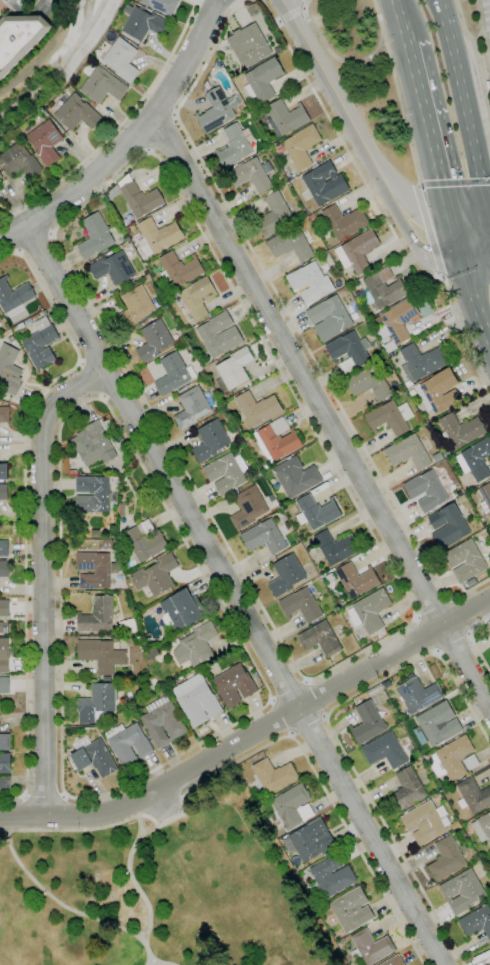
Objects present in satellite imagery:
road: (3, 1)
road: (283, 1)
road: (286, 1)
road: (47, 5)
building: (161, 6)
road: (268, 11)
road: (290, 17)
parking lot: (486, 17)
road: (400, 21)
building: (143, 24)
road: (483, 31)
road: (478, 35)
building: (19, 39)
building: (249, 45)
road: (478, 55)
building: (121, 60)
road: (350, 62)
road: (486, 74)
building: (262, 81)
building: (206, 85)
building: (102, 86)
road: (331, 87)
road: (159, 105)
road: (464, 108)
building: (218, 110)
road: (489, 110)
building: (77, 113)
road: (403, 115)
building: (284, 118)
road: (118, 127)
road: (429, 132)
road: (163, 133)
road: (137, 136)
road: (130, 139)
building: (46, 141)
building: (233, 146)
building: (301, 147)
building: (19, 161)
building: (252, 175)
building: (0, 176)
road: (455, 182)
building: (324, 184)
building: (138, 197)
road: (412, 202)
road: (382, 214)
building: (274, 216)
traffic signals: (489, 217)
road: (39, 218)
road: (471, 220)
building: (344, 222)
traffic signals: (452, 223)
road: (407, 234)
road: (430, 235)
building: (95, 236)
building: (158, 236)
road: (5, 241)
road: (36, 242)
building: (290, 245)
road: (458, 247)
building: (357, 252)
building: (113, 267)
road: (477, 267)
building: (179, 269)
traffic signals: (464, 272)
building: (310, 283)
building: (381, 289)
building: (14, 297)
building: (197, 297)
building: (137, 306)
road: (476, 307)
building: (153, 318)
road: (291, 318)
building: (329, 318)
building: (0, 320)
building: (28, 322)
building: (398, 322)
building: (219, 335)
building: (154, 340)
building: (40, 342)
building: (349, 352)
road: (98, 355)
building: (420, 363)
building: (9, 370)
building: (233, 370)
building: (174, 374)
road: (89, 380)
building: (369, 384)
road: (118, 390)
building: (440, 390)
building: (192, 407)
building: (260, 407)
road: (321, 413)
building: (4, 414)
building: (389, 417)
building: (425, 420)
building: (461, 430)
building: (210, 440)
building: (276, 440)
building: (95, 444)
building: (407, 453)
building: (446, 454)
building: (437, 457)
building: (475, 460)
road: (140, 467)
building: (265, 467)
building: (3, 471)
building: (226, 472)
building: (295, 476)
building: (426, 491)
building: (3, 492)
building: (94, 495)
building: (484, 497)
building: (460, 499)
road: (25, 506)
building: (248, 507)
building: (121, 509)
building: (316, 512)
building: (447, 526)
building: (108, 535)
building: (264, 537)
building: (145, 541)
building: (107, 544)
building: (336, 546)
building: (3, 548)
building: (465, 560)
building: (4, 569)
building: (94, 569)
building: (155, 575)
building: (286, 575)
road: (42, 576)
building: (356, 579)
road: (235, 594)
building: (301, 605)
building: (4, 608)
road: (432, 609)
building: (182, 610)
building: (369, 610)
building: (97, 616)
road: (462, 616)
building: (128, 627)
building: (3, 628)
building: (489, 631)
building: (378, 636)
road: (421, 636)
building: (320, 638)
road: (475, 643)
road: (456, 644)
building: (196, 645)
building: (101, 654)
building: (4, 655)
road: (316, 677)
building: (4, 685)
building: (234, 685)
road: (288, 689)
building: (418, 694)
road: (317, 697)
building: (197, 700)
building: (96, 703)
building: (0, 704)
road: (280, 716)
building: (163, 722)
building: (367, 722)
building: (436, 724)
road: (308, 725)
road: (252, 733)
road: (338, 739)
building: (5, 742)
building: (128, 743)
road: (258, 749)
building: (384, 751)
building: (451, 758)
building: (93, 759)
building: (470, 762)
building: (5, 771)
building: (273, 776)
building: (407, 789)
road: (43, 794)
building: (474, 795)
building: (292, 807)
parking lot: (167, 811)
road: (61, 812)
road: (11, 814)
building: (425, 822)
building: (482, 827)
road: (148, 831)
building: (310, 840)
building: (446, 858)
building: (330, 877)
road: (139, 888)
park: (160, 888)
building: (462, 890)
road: (58, 903)
building: (350, 910)
building: (477, 921)
building: (489, 946)
building: (370, 947)
building: (393, 961)
road: (160, 963)

